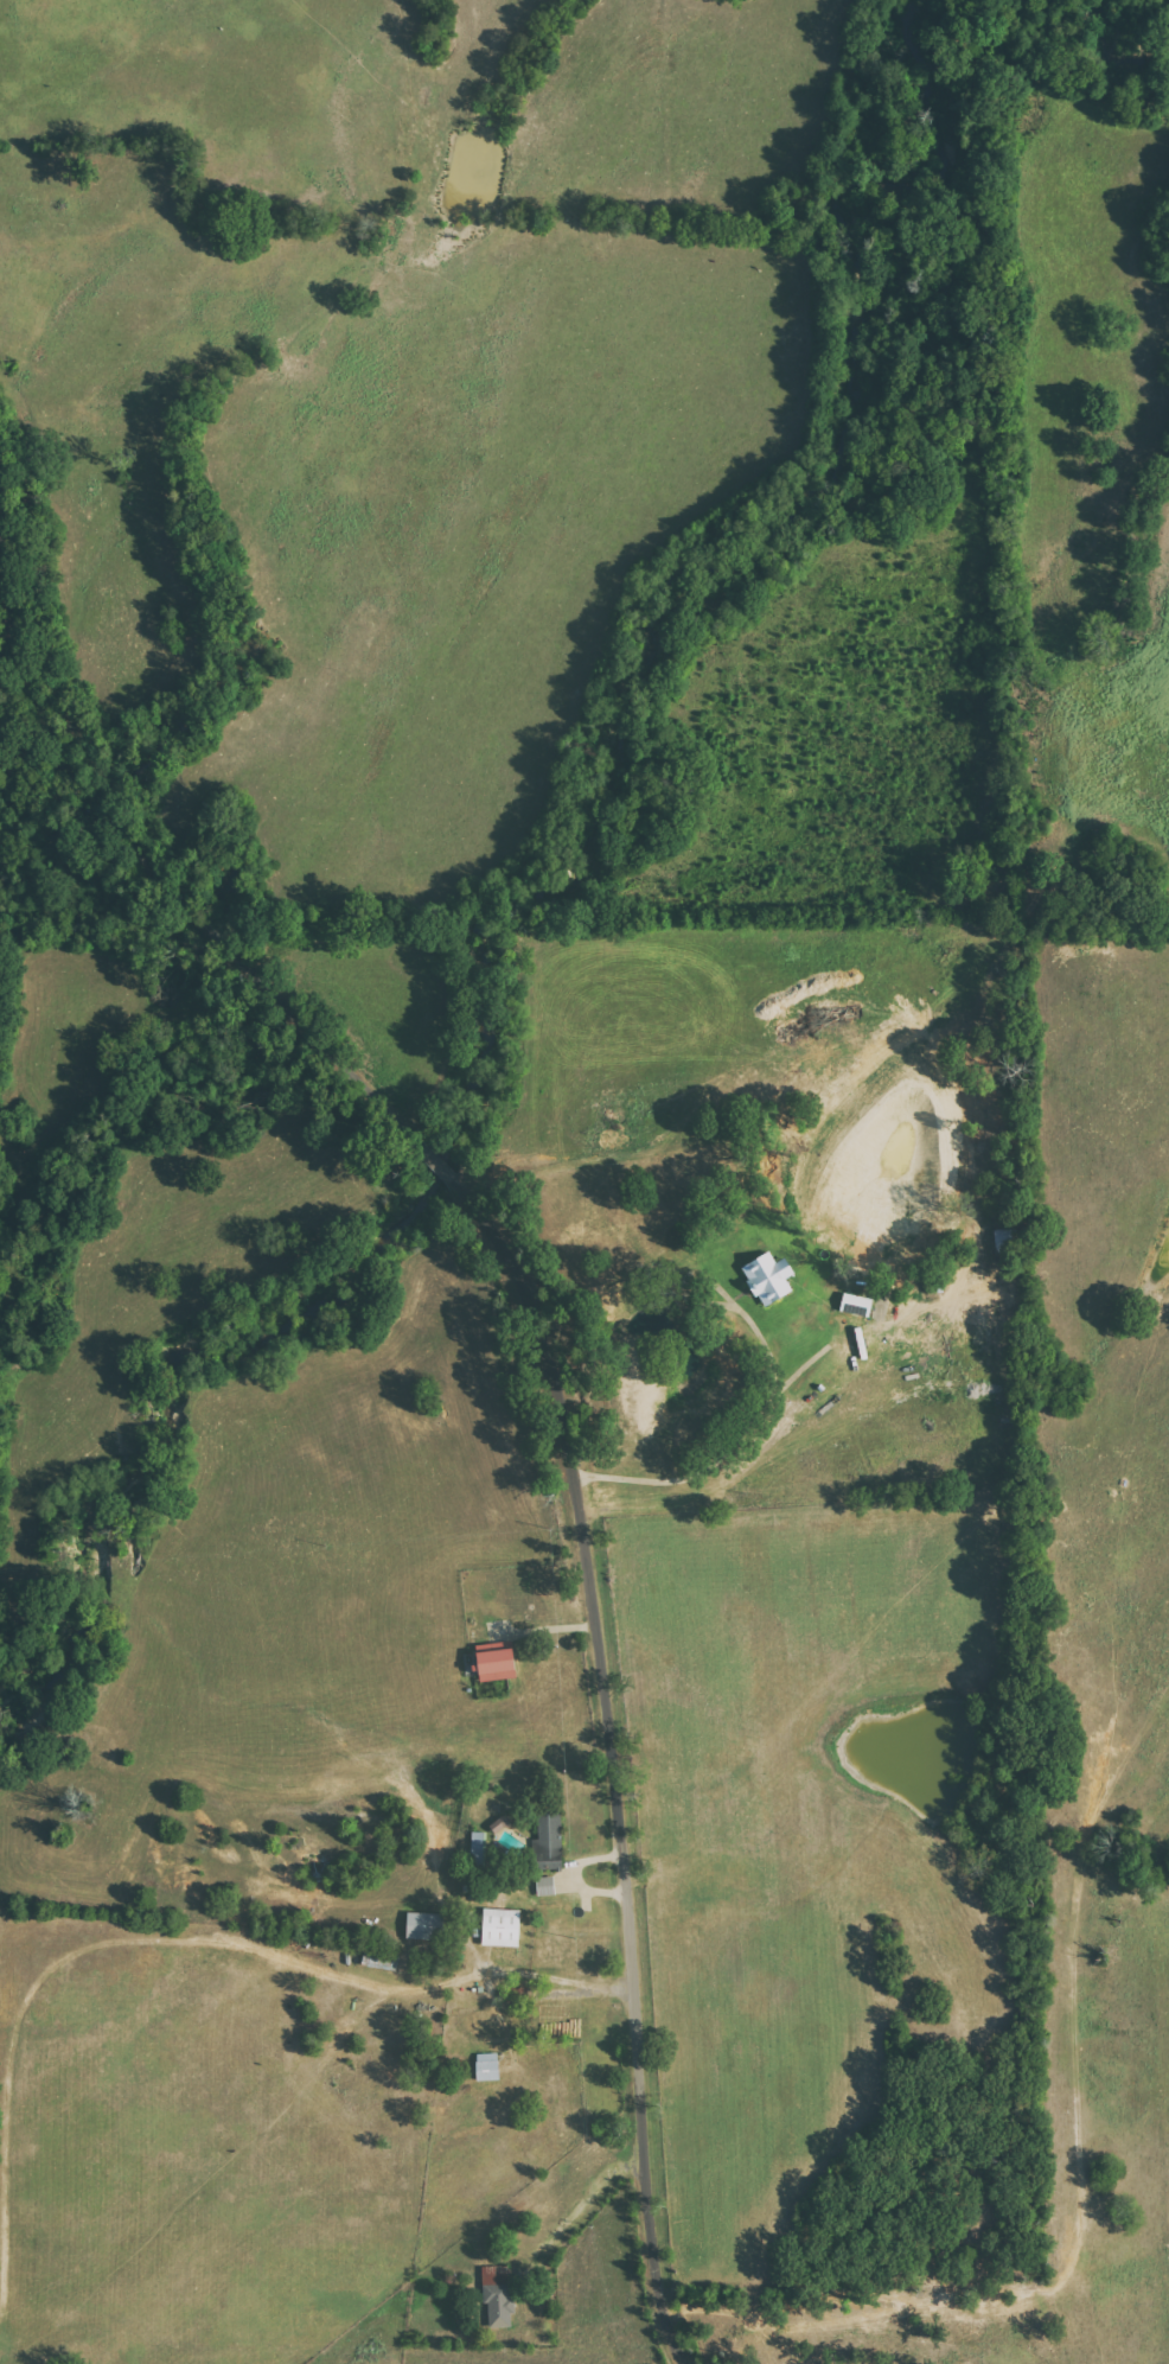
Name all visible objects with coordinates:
building: (1004, 1238)
building: (769, 1277)
road: (534, 1326)
road: (728, 1448)
building: (498, 1663)
building: (505, 1835)
building: (551, 1841)
building: (478, 1844)
building: (545, 1885)
building: (426, 1925)
building: (502, 1926)
building: (488, 2066)
building: (498, 2296)

